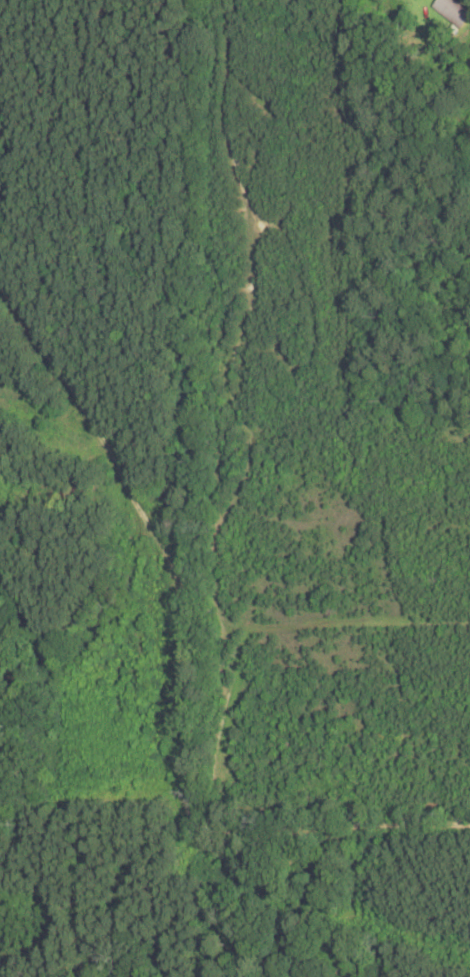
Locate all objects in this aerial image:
building: (452, 12)
road: (144, 498)

